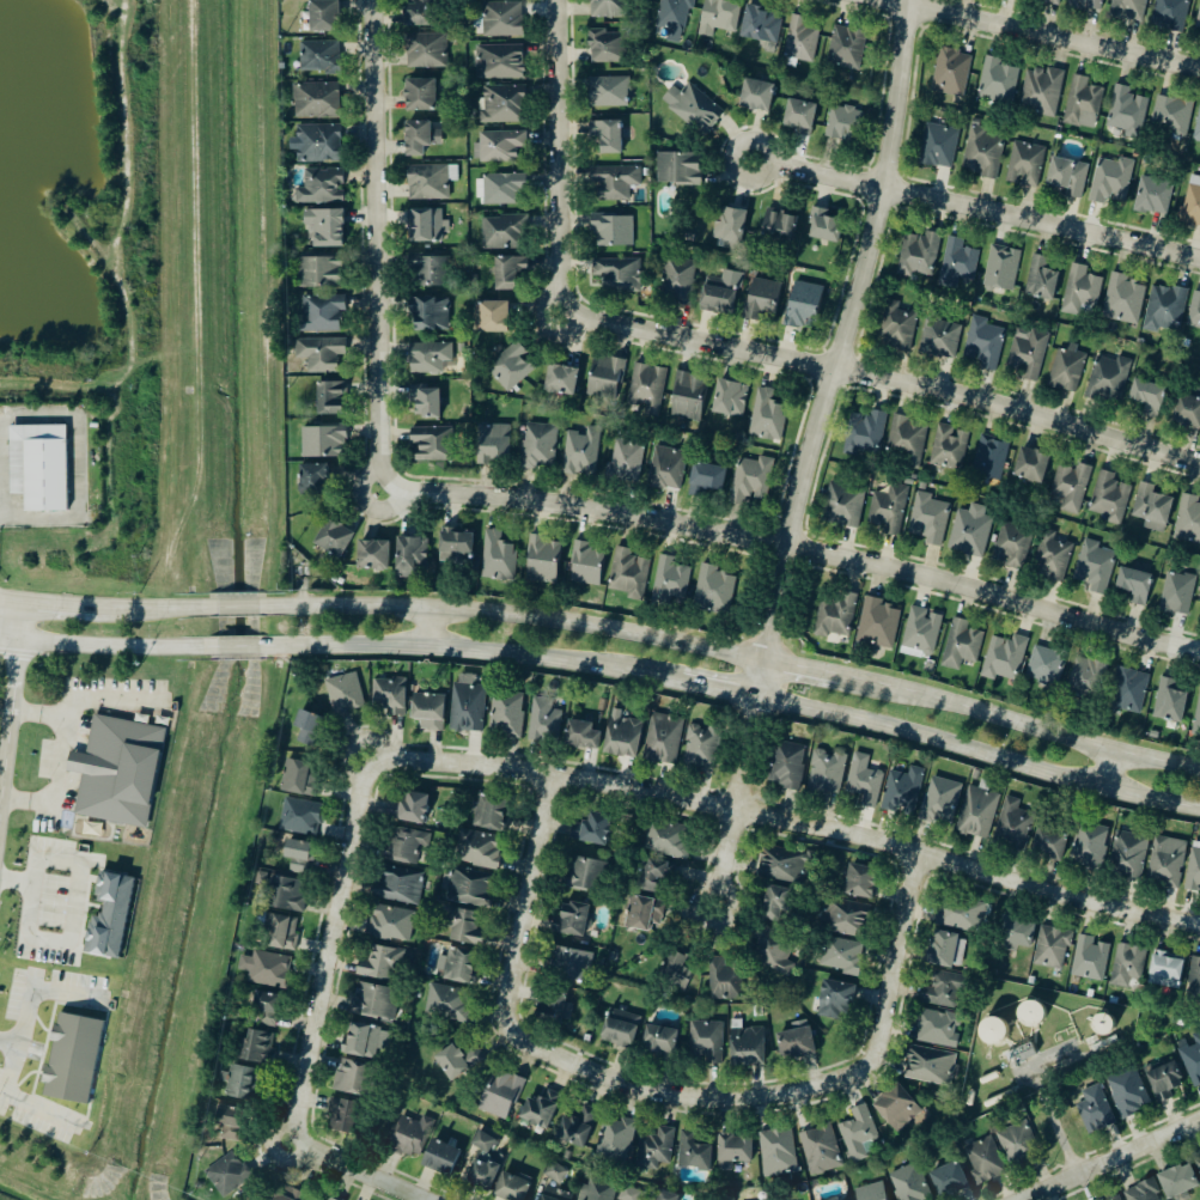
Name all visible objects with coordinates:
road: (908, 1)
building: (1048, 1)
building: (1089, 4)
building: (608, 8)
building: (1129, 8)
building: (421, 13)
building: (1170, 13)
building: (324, 16)
building: (719, 17)
building: (504, 18)
building: (675, 18)
building: (1199, 20)
building: (761, 25)
road: (1044, 33)
building: (802, 39)
building: (605, 47)
building: (847, 48)
building: (428, 50)
building: (321, 56)
building: (500, 61)
building: (952, 72)
building: (999, 81)
building: (609, 91)
building: (1042, 92)
building: (421, 95)
building: (755, 96)
building: (317, 100)
building: (1083, 103)
building: (502, 104)
building: (693, 108)
building: (1126, 111)
building: (1170, 115)
building: (798, 116)
building: (842, 124)
building: (1196, 128)
building: (420, 138)
building: (607, 138)
building: (318, 144)
building: (500, 146)
building: (937, 146)
building: (982, 153)
road: (556, 159)
building: (1024, 165)
building: (677, 170)
building: (1066, 177)
building: (1110, 181)
building: (427, 183)
building: (610, 183)
building: (321, 187)
building: (501, 189)
road: (374, 196)
building: (1152, 196)
road: (974, 206)
building: (1190, 206)
building: (428, 226)
building: (729, 226)
building: (823, 226)
building: (324, 227)
building: (780, 229)
building: (613, 231)
building: (501, 233)
building: (432, 252)
building: (918, 254)
building: (956, 263)
building: (1000, 269)
building: (428, 270)
building: (318, 273)
building: (506, 273)
building: (1044, 280)
building: (1080, 291)
park: (91, 296)
building: (738, 296)
building: (1122, 300)
building: (800, 305)
building: (1164, 309)
building: (319, 312)
building: (431, 313)
building: (1194, 315)
building: (489, 316)
building: (899, 329)
building: (939, 339)
building: (982, 343)
building: (317, 353)
building: (1025, 353)
building: (430, 358)
building: (1066, 368)
building: (605, 377)
building: (559, 378)
road: (884, 378)
building: (1108, 378)
building: (647, 386)
building: (1146, 394)
building: (687, 396)
building: (329, 397)
building: (729, 397)
building: (424, 401)
building: (1188, 409)
building: (767, 414)
building: (865, 433)
building: (906, 437)
building: (324, 441)
building: (492, 443)
road: (377, 444)
building: (431, 444)
building: (538, 445)
building: (949, 446)
road: (810, 456)
building: (991, 458)
building: (39, 464)
building: (665, 468)
building: (1054, 477)
building: (311, 479)
building: (750, 479)
building: (705, 480)
building: (1109, 498)
building: (842, 505)
building: (1151, 507)
building: (887, 510)
building: (928, 518)
building: (1188, 519)
building: (970, 531)
road: (792, 544)
building: (1011, 546)
building: (352, 547)
building: (455, 548)
building: (409, 553)
building: (1053, 553)
building: (498, 556)
building: (541, 560)
building: (1094, 566)
building: (609, 569)
building: (670, 578)
building: (1134, 585)
building: (713, 587)
building: (1176, 593)
road: (11, 598)
road: (59, 603)
road: (154, 608)
road: (238, 608)
road: (516, 615)
building: (835, 616)
road: (20, 621)
building: (878, 622)
road: (431, 627)
building: (920, 631)
road: (8, 639)
building: (961, 645)
road: (115, 647)
road: (239, 647)
road: (475, 647)
building: (1003, 657)
road: (803, 665)
building: (1044, 665)
building: (1086, 677)
road: (720, 684)
building: (1129, 690)
building: (389, 695)
building: (345, 699)
building: (1170, 700)
building: (467, 702)
building: (427, 711)
building: (506, 713)
road: (8, 719)
building: (1196, 720)
building: (543, 721)
road: (1019, 723)
building: (305, 726)
building: (621, 733)
building: (581, 735)
building: (662, 741)
building: (700, 749)
road: (977, 750)
road: (62, 759)
building: (784, 766)
building: (120, 769)
road: (1115, 769)
building: (824, 773)
building: (298, 778)
building: (861, 782)
building: (901, 792)
building: (939, 800)
building: (408, 808)
building: (486, 812)
road: (747, 812)
building: (975, 814)
building: (299, 818)
building: (1011, 827)
building: (590, 830)
building: (665, 839)
building: (1047, 845)
building: (398, 847)
building: (1086, 847)
building: (475, 851)
building: (296, 855)
building: (1125, 855)
building: (1165, 860)
building: (782, 865)
building: (1193, 867)
building: (581, 876)
building: (650, 877)
road: (17, 882)
building: (857, 882)
building: (394, 889)
building: (468, 889)
building: (284, 896)
building: (774, 906)
road: (74, 913)
building: (640, 914)
building: (960, 915)
building: (842, 919)
building: (568, 920)
building: (388, 925)
building: (461, 927)
road: (522, 932)
building: (1013, 932)
building: (276, 933)
building: (1050, 949)
building: (769, 951)
building: (943, 951)
building: (837, 957)
building: (1089, 958)
road: (333, 961)
building: (377, 966)
building: (566, 966)
building: (456, 967)
building: (1125, 968)
building: (267, 970)
building: (1164, 970)
building: (672, 971)
building: (1194, 977)
building: (723, 980)
road: (903, 982)
building: (943, 992)
building: (687, 999)
building: (833, 1001)
road: (28, 1003)
building: (371, 1003)
building: (445, 1004)
building: (264, 1010)
building: (549, 1010)
building: (1028, 1017)
building: (933, 1029)
building: (617, 1030)
building: (991, 1033)
building: (359, 1042)
building: (703, 1043)
building: (657, 1044)
building: (793, 1046)
building: (252, 1048)
building: (744, 1048)
building: (1021, 1054)
building: (74, 1058)
building: (1192, 1059)
building: (455, 1062)
building: (927, 1067)
building: (351, 1079)
building: (1162, 1083)
building: (240, 1084)
building: (1126, 1094)
building: (498, 1096)
road: (18, 1097)
road: (701, 1100)
building: (537, 1109)
building: (895, 1109)
building: (1092, 1111)
building: (342, 1116)
building: (227, 1123)
building: (574, 1128)
building: (855, 1134)
building: (406, 1138)
building: (613, 1141)
building: (481, 1144)
building: (1017, 1145)
building: (653, 1150)
building: (694, 1151)
building: (818, 1151)
building: (731, 1152)
building: (774, 1153)
road: (319, 1157)
building: (439, 1157)
building: (981, 1162)
road: (1119, 1163)
building: (1198, 1164)
building: (554, 1172)
building: (226, 1175)
building: (479, 1176)
building: (946, 1181)
building: (1175, 1182)
building: (906, 1184)
building: (508, 1188)
building: (597, 1190)
building: (869, 1193)
building: (1140, 1193)
building: (282, 1194)
building: (627, 1194)
building: (552, 1195)
building: (319, 1198)
building: (664, 1198)
building: (1111, 1198)
building: (329, 1199)
building: (1100, 1199)

